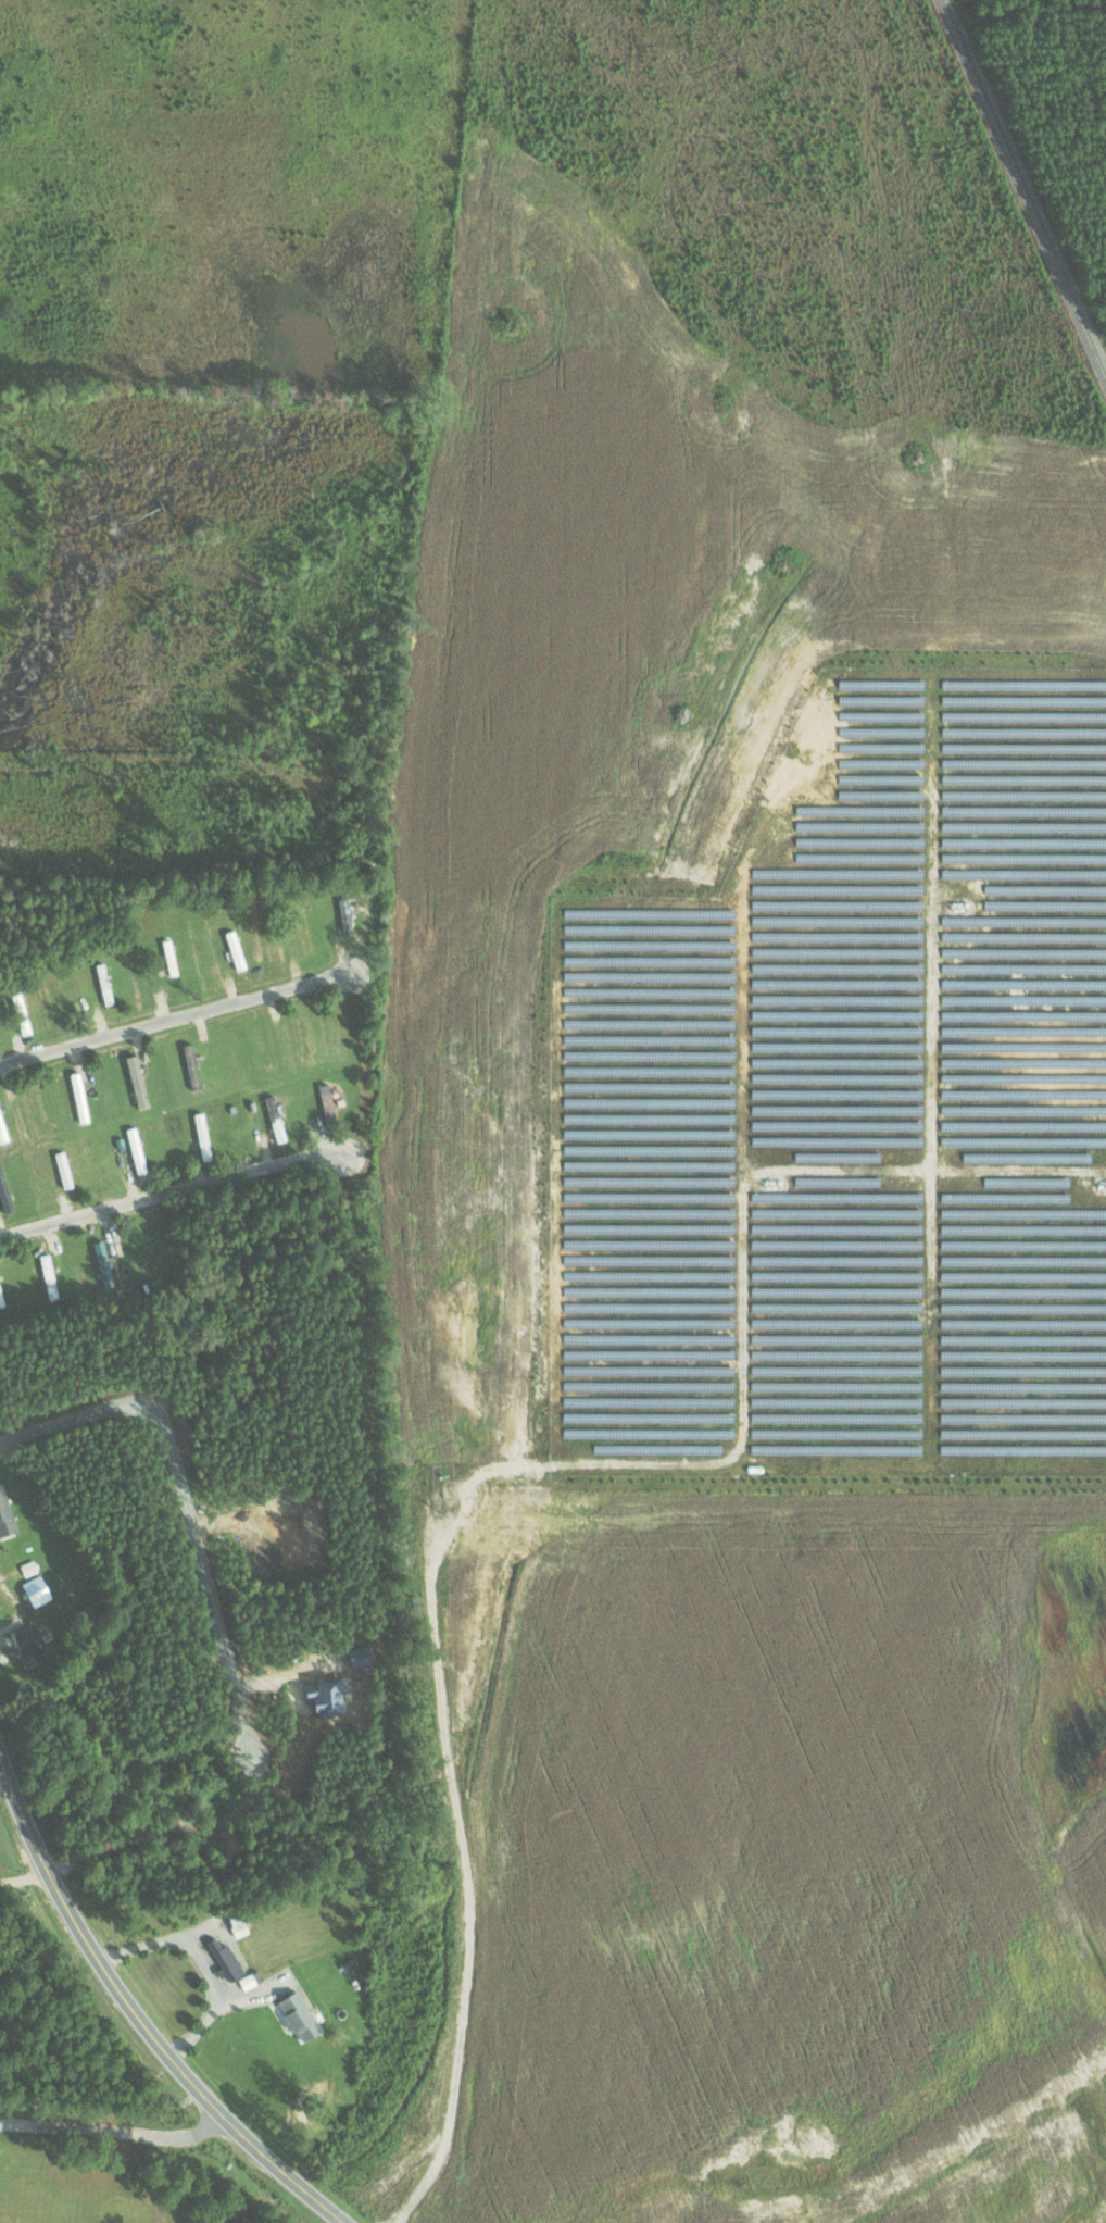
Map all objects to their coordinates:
railway: (1023, 188)
building: (345, 915)
building: (236, 949)
road: (173, 1022)
building: (192, 1065)
building: (77, 1086)
building: (328, 1103)
building: (2, 1131)
building: (280, 1134)
road: (169, 1191)
building: (104, 1263)
building: (5, 1514)
building: (37, 1590)
building: (28, 1645)
road: (461, 1819)
road: (22, 1877)
road: (204, 1960)
building: (226, 1960)
building: (300, 2016)
road: (136, 2019)
road: (120, 2132)
park: (99, 2171)

